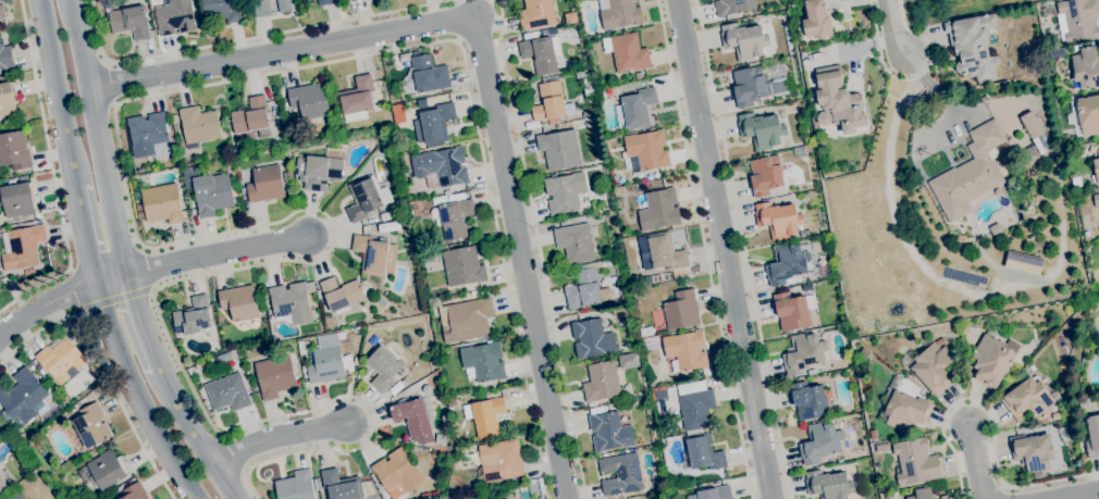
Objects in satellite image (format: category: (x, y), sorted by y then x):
building: (302, 0)
building: (349, 0)
building: (353, 0)
building: (326, 2)
building: (283, 5)
building: (196, 7)
building: (728, 7)
building: (260, 8)
building: (222, 10)
building: (2, 11)
building: (619, 13)
building: (536, 14)
building: (174, 16)
building: (570, 17)
building: (816, 20)
building: (1077, 20)
building: (129, 21)
road: (466, 28)
road: (889, 28)
building: (544, 32)
road: (246, 38)
building: (744, 40)
building: (973, 46)
building: (627, 52)
building: (1057, 52)
building: (541, 53)
building: (5, 57)
building: (404, 57)
road: (483, 64)
building: (1084, 67)
building: (424, 75)
building: (578, 75)
building: (638, 75)
road: (912, 77)
road: (925, 82)
road: (111, 83)
building: (749, 86)
building: (779, 86)
road: (909, 89)
building: (600, 91)
road: (55, 93)
building: (8, 99)
building: (356, 99)
building: (437, 99)
building: (309, 101)
building: (549, 101)
building: (837, 101)
building: (410, 103)
building: (635, 109)
building: (399, 110)
building: (585, 114)
building: (1086, 114)
building: (173, 117)
building: (251, 118)
building: (198, 124)
building: (433, 124)
building: (563, 125)
building: (1030, 125)
building: (762, 129)
building: (147, 133)
building: (379, 133)
road: (98, 137)
building: (1069, 139)
flagpole: (907, 142)
building: (234, 148)
building: (559, 149)
building: (647, 149)
building: (13, 151)
building: (1029, 153)
building: (1097, 166)
building: (441, 167)
building: (318, 171)
building: (188, 172)
road: (52, 173)
building: (970, 173)
building: (766, 174)
building: (287, 177)
building: (1076, 182)
building: (266, 184)
building: (564, 192)
building: (211, 194)
building: (18, 198)
building: (366, 198)
building: (1096, 200)
building: (162, 203)
building: (139, 210)
building: (659, 210)
building: (385, 215)
building: (453, 219)
building: (778, 219)
building: (388, 226)
building: (1086, 226)
road: (135, 233)
road: (83, 235)
building: (803, 236)
building: (575, 242)
building: (452, 246)
building: (22, 247)
road: (538, 249)
road: (704, 249)
road: (724, 249)
road: (742, 249)
building: (662, 252)
building: (374, 254)
road: (215, 255)
building: (603, 263)
building: (786, 263)
building: (462, 266)
building: (28, 271)
road: (937, 280)
building: (585, 289)
building: (456, 291)
building: (342, 294)
road: (116, 297)
building: (264, 299)
road: (58, 300)
building: (381, 301)
building: (238, 302)
building: (292, 302)
building: (681, 310)
building: (791, 311)
building: (194, 317)
building: (219, 319)
building: (467, 320)
road: (139, 322)
building: (330, 322)
building: (592, 339)
building: (372, 340)
building: (623, 345)
building: (686, 350)
building: (803, 353)
building: (60, 359)
road: (103, 359)
building: (325, 360)
building: (356, 360)
building: (483, 361)
building: (991, 361)
building: (36, 364)
building: (349, 366)
building: (382, 366)
building: (931, 366)
building: (811, 372)
building: (274, 376)
building: (893, 378)
building: (601, 381)
building: (425, 389)
building: (409, 391)
building: (227, 392)
building: (660, 394)
road: (136, 395)
building: (924, 395)
building: (25, 398)
building: (65, 398)
building: (1029, 399)
building: (808, 400)
building: (1084, 403)
building: (695, 404)
building: (610, 406)
building: (905, 410)
building: (484, 416)
building: (416, 419)
road: (996, 424)
building: (91, 425)
building: (609, 432)
building: (1062, 432)
road: (193, 435)
road: (276, 436)
building: (1092, 436)
building: (440, 438)
building: (820, 441)
building: (1033, 452)
building: (702, 453)
building: (468, 460)
building: (501, 460)
building: (916, 461)
road: (977, 463)
building: (107, 470)
building: (396, 473)
building: (620, 474)
building: (2, 484)
building: (316, 484)
building: (828, 484)
building: (342, 485)
building: (295, 486)
building: (533, 487)
building: (134, 491)
building: (715, 492)
building: (922, 494)
road: (1078, 495)
building: (18, 496)
building: (435, 496)
building: (943, 497)

